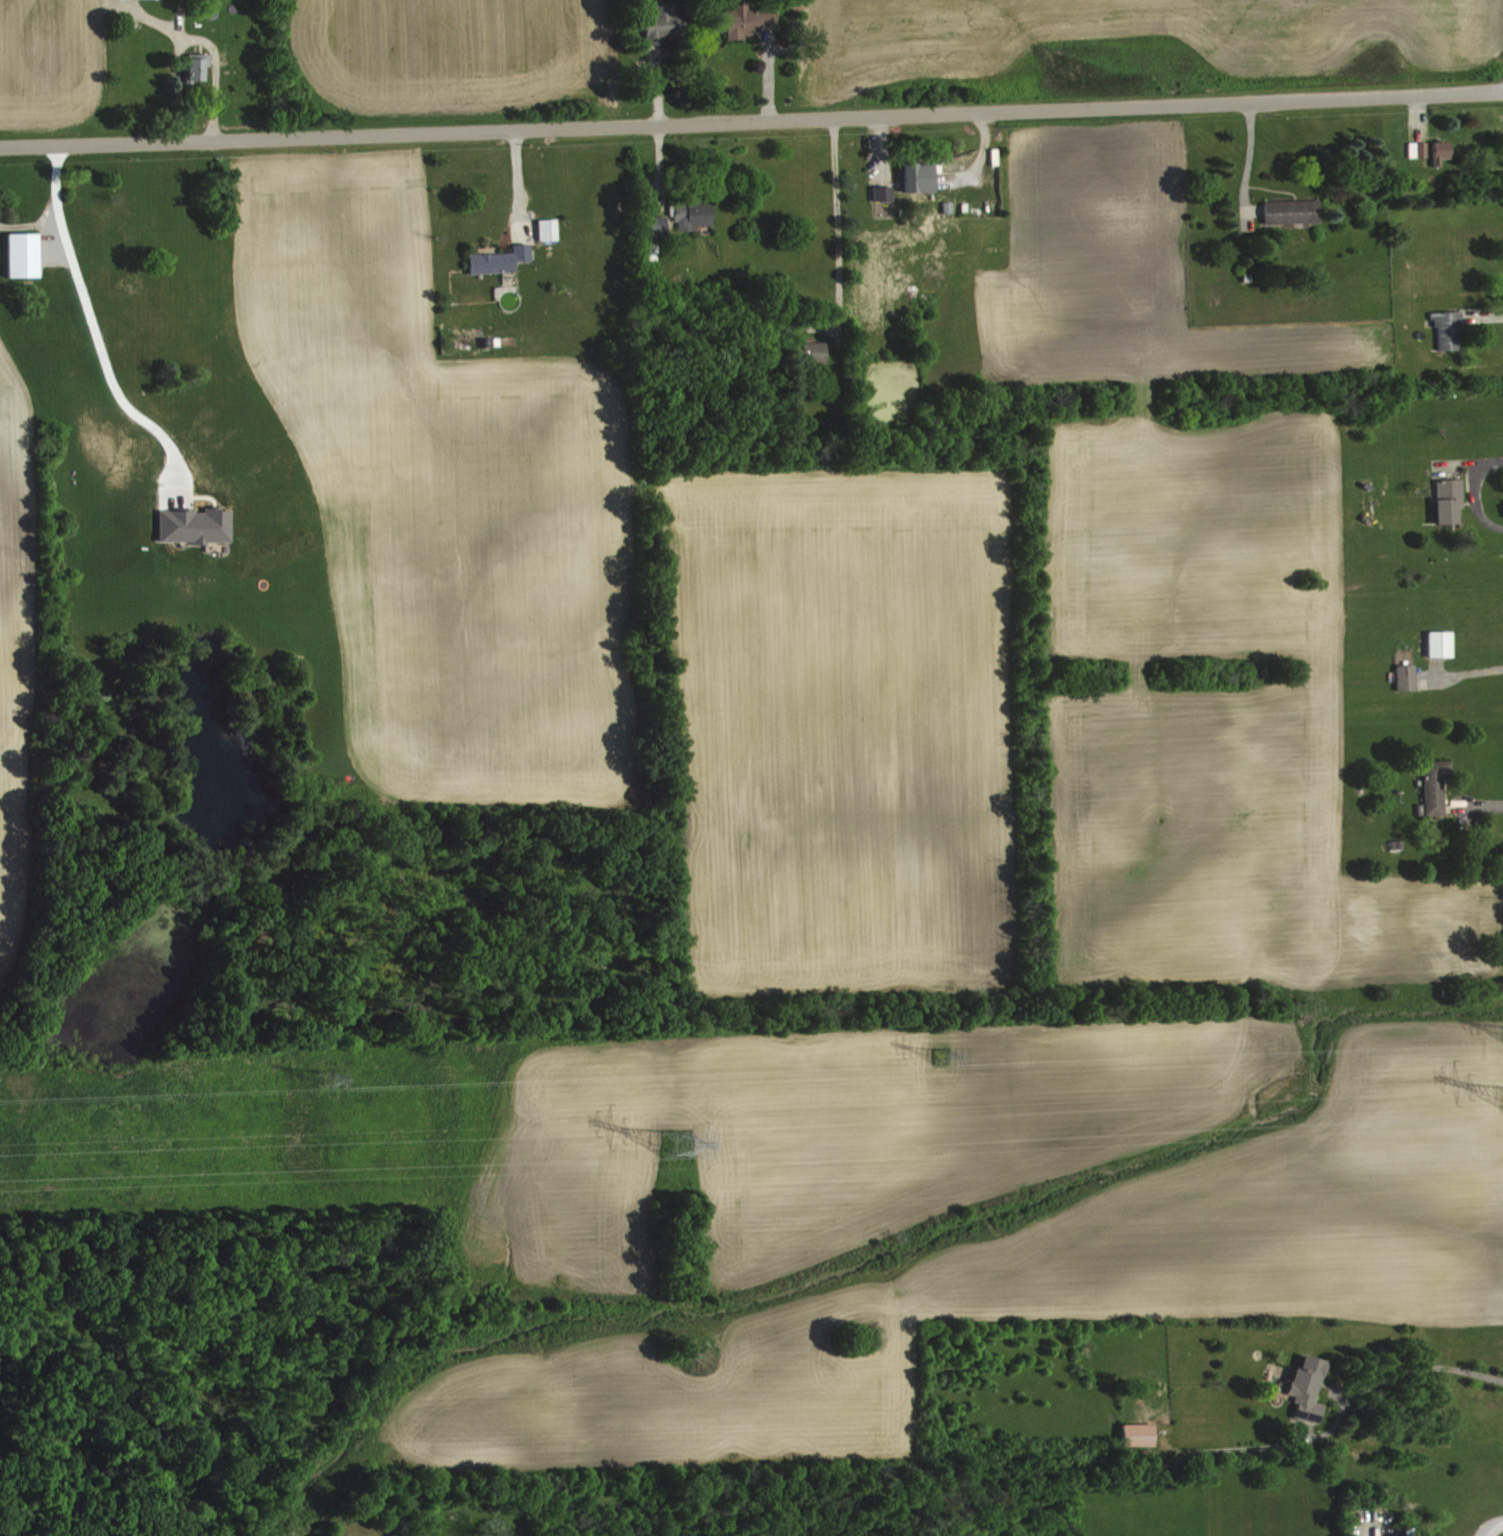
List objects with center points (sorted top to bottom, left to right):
building: (750, 19)
building: (668, 24)
crop: (1133, 48)
building: (199, 67)
road: (1416, 117)
road: (751, 120)
building: (1415, 148)
building: (1439, 150)
road: (1247, 165)
building: (921, 178)
building: (886, 194)
road: (1253, 210)
building: (1289, 210)
building: (695, 216)
road: (31, 227)
building: (551, 230)
road: (835, 232)
building: (658, 235)
building: (26, 255)
building: (502, 260)
road: (1481, 314)
road: (96, 320)
building: (1445, 327)
building: (817, 352)
road: (1465, 459)
road: (1474, 492)
building: (1445, 499)
building: (198, 526)
crop: (1175, 580)
building: (1443, 644)
road: (1477, 668)
building: (1409, 678)
building: (1438, 786)
power tower: (939, 1055)
power tower: (324, 1076)
power tower: (673, 1146)
road: (1399, 1375)
building: (1310, 1389)
building: (1140, 1435)
road: (1489, 1524)

